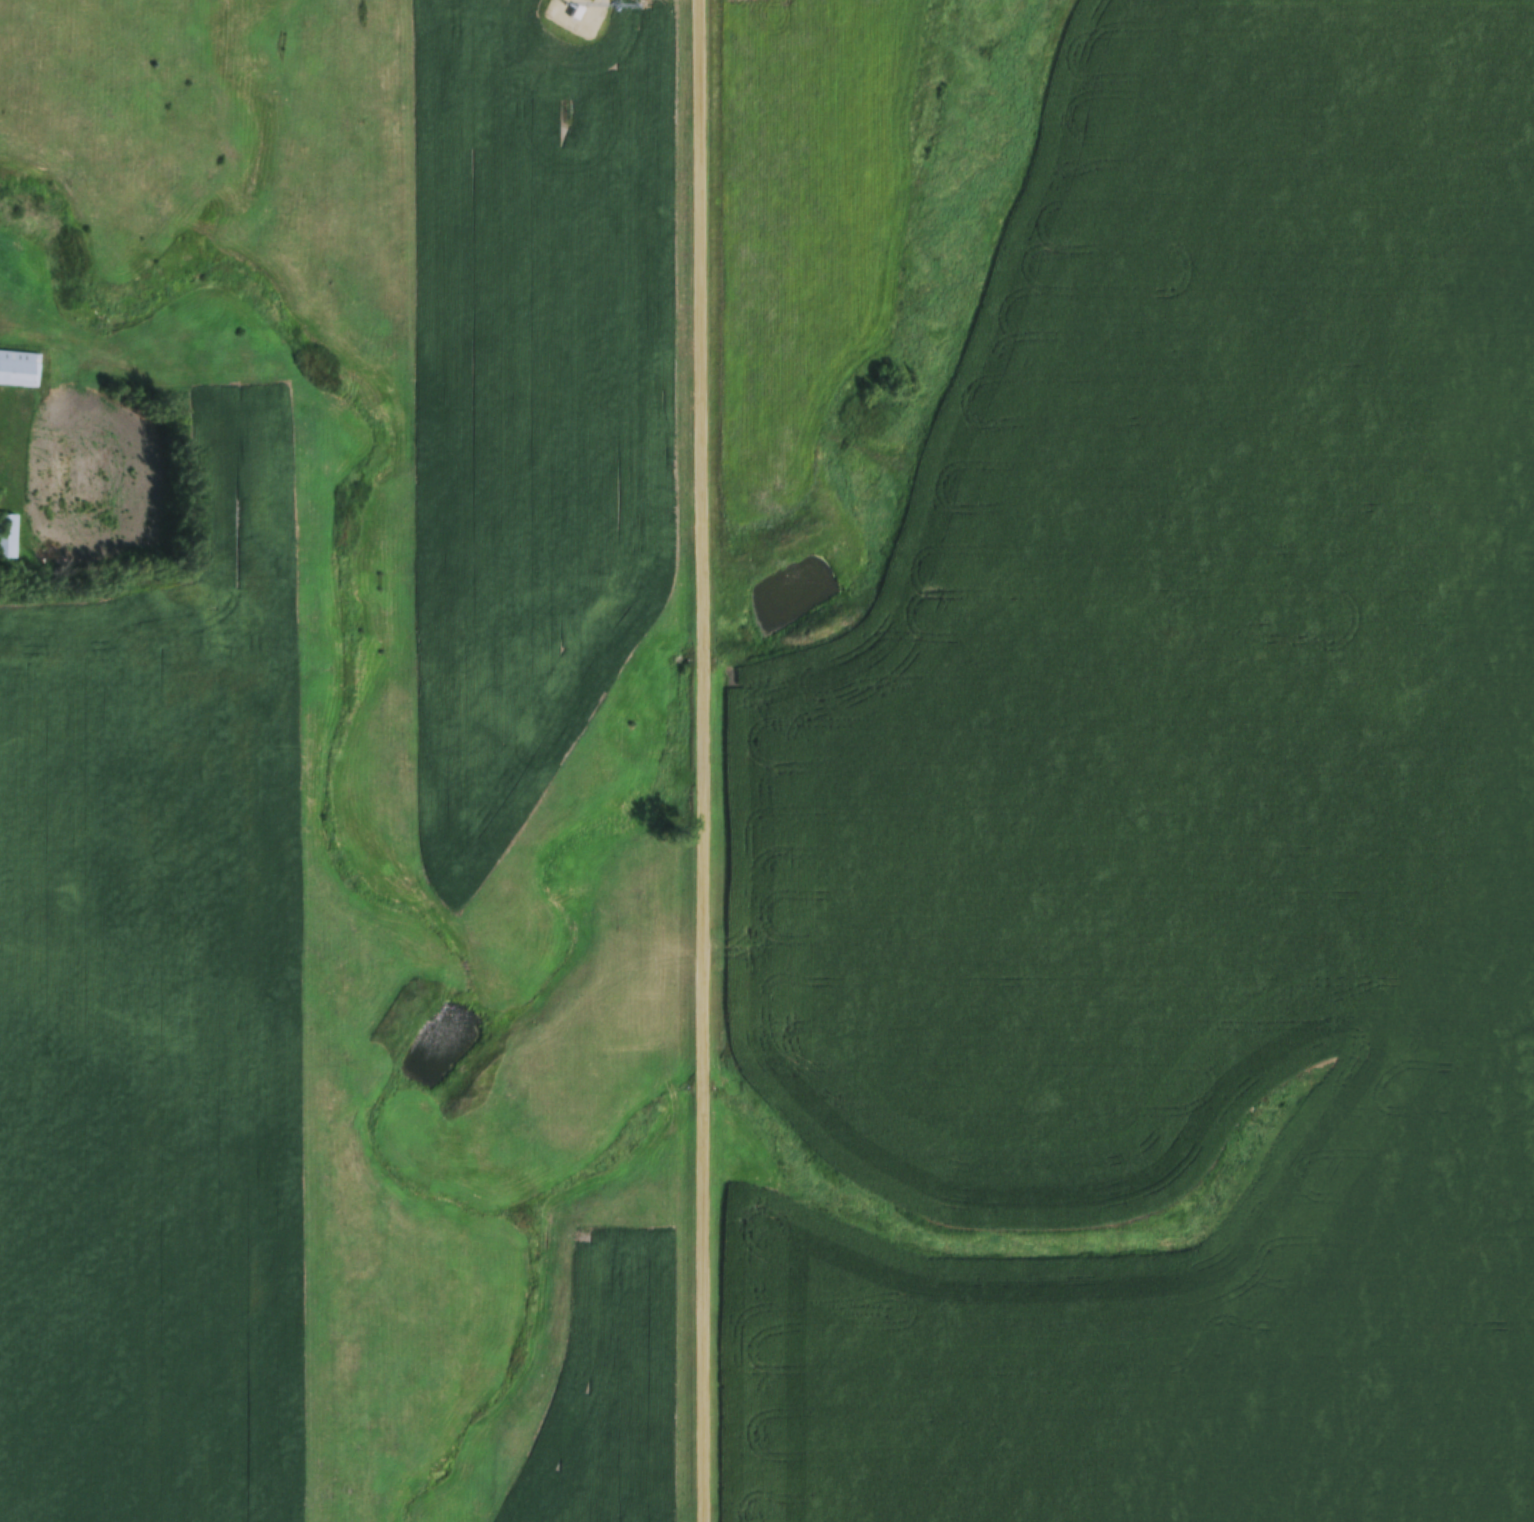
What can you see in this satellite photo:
road: (605, 1)
road: (582, 24)
building: (19, 371)
building: (8, 538)
road: (703, 761)

